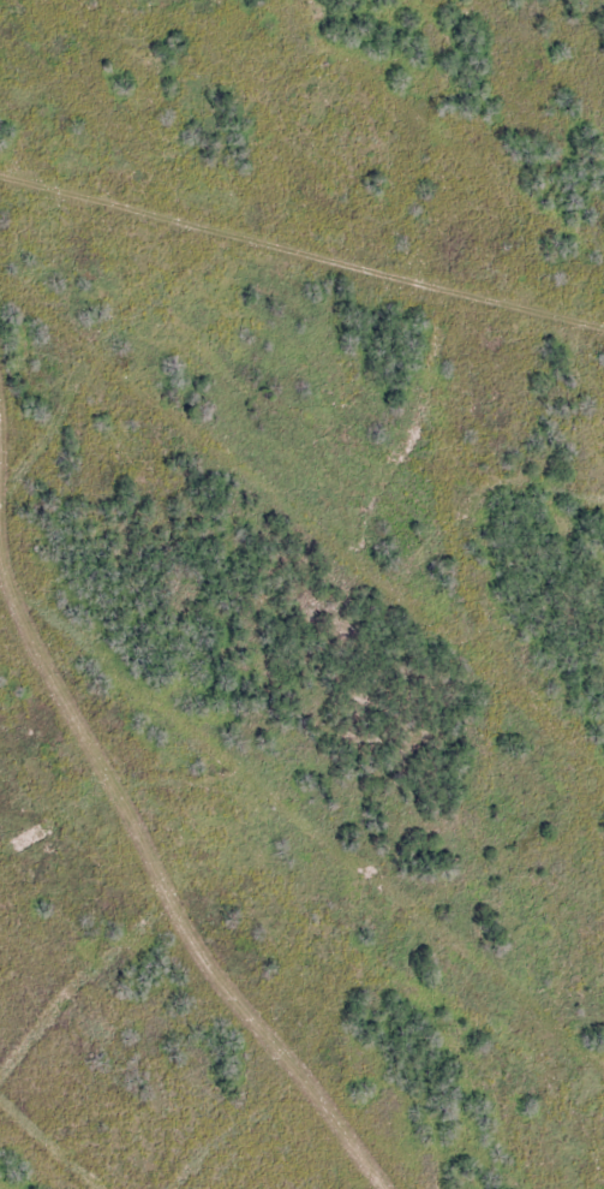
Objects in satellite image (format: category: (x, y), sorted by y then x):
road: (550, 35)

